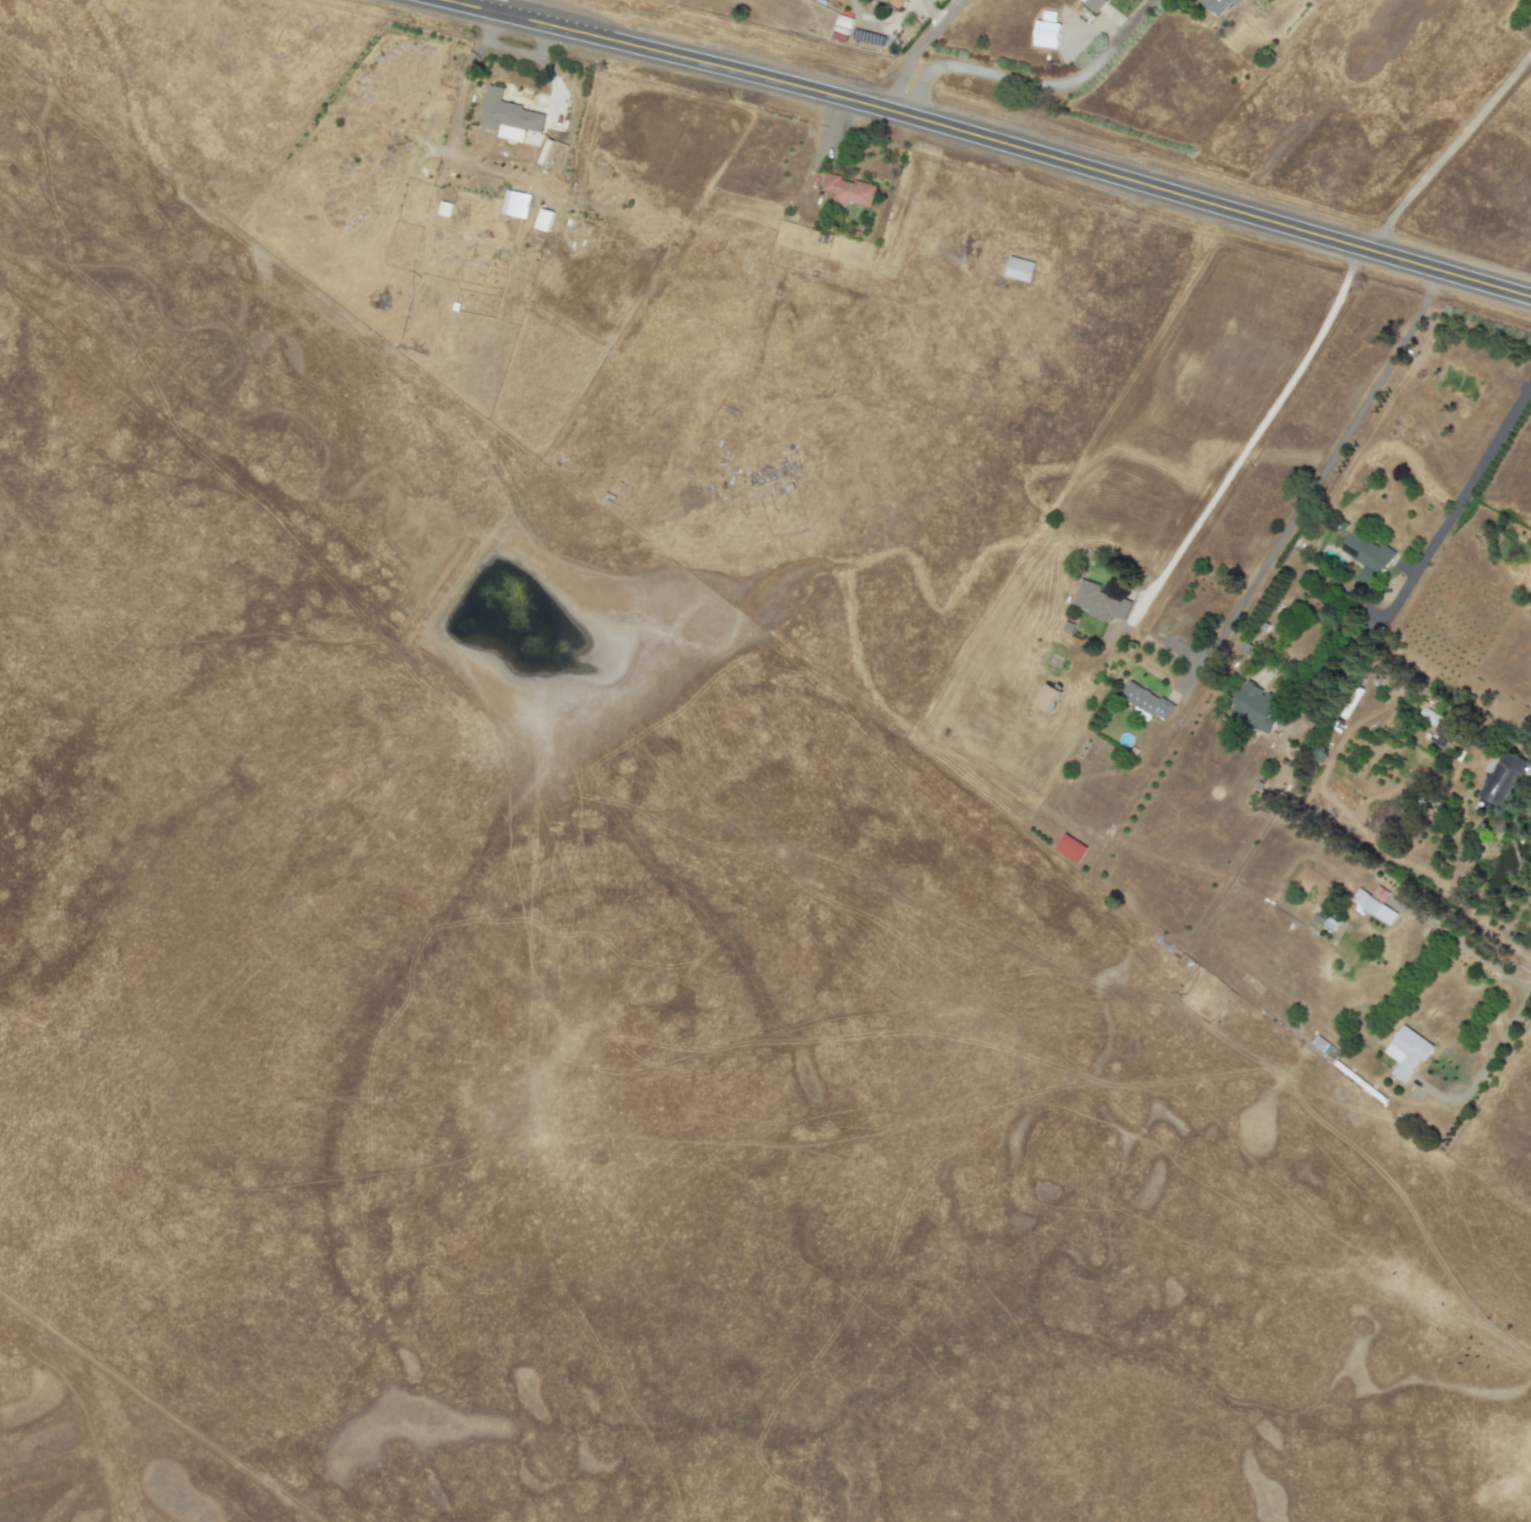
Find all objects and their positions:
building: (896, 3)
building: (1094, 4)
building: (1219, 5)
road: (928, 10)
road: (1095, 21)
building: (1046, 35)
road: (920, 44)
road: (1039, 85)
building: (508, 117)
road: (1026, 134)
road: (1451, 146)
building: (848, 191)
building: (520, 201)
building: (444, 209)
building: (543, 219)
building: (1019, 269)
road: (1262, 423)
road: (1323, 468)
road: (1471, 479)
building: (1367, 557)
building: (1100, 602)
building: (1047, 697)
building: (1147, 701)
building: (1255, 708)
building: (1429, 716)
building: (1500, 777)
building: (1071, 848)
building: (1379, 894)
building: (1374, 908)
road: (1501, 1041)
building: (1323, 1050)
building: (1407, 1053)

